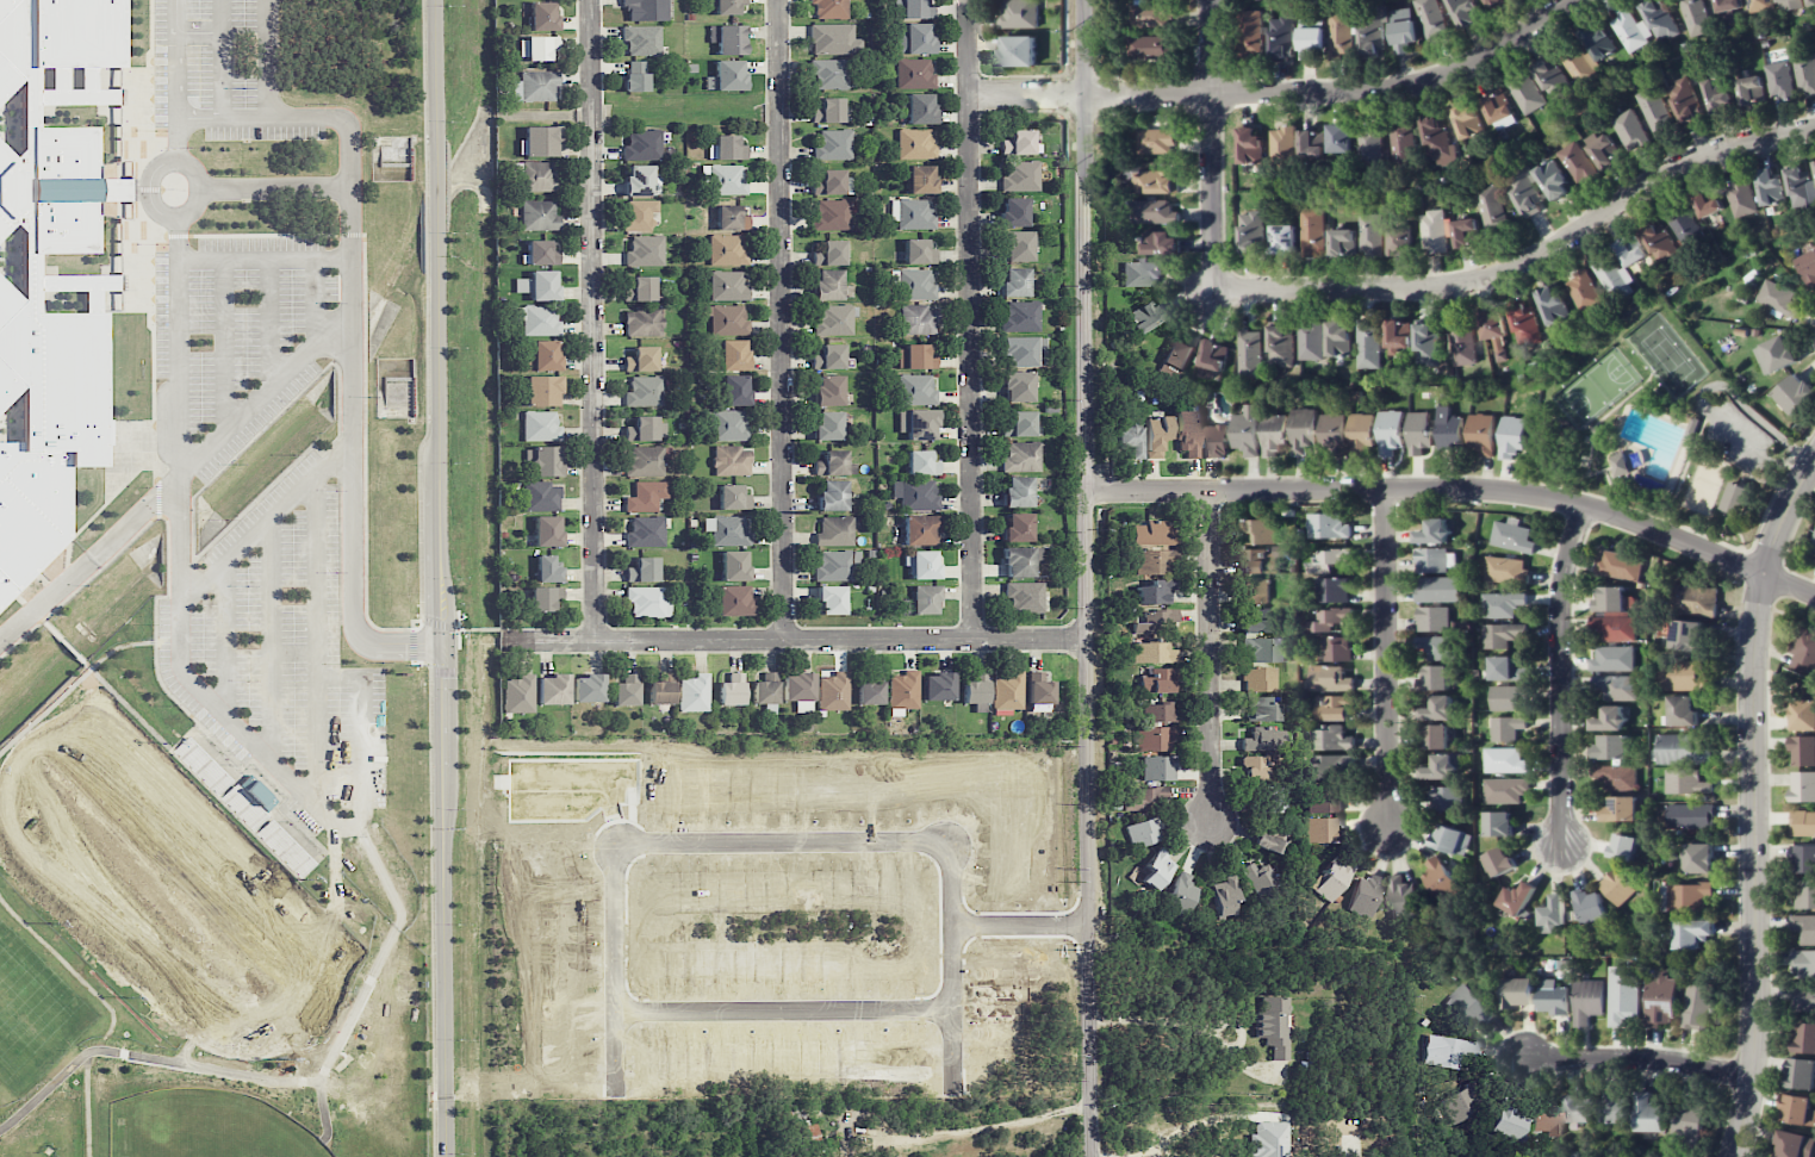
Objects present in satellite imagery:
building: (1492, 2)
building: (1810, 2)
building: (1728, 5)
building: (1758, 5)
building: (1788, 5)
building: (725, 6)
building: (828, 8)
building: (907, 8)
building: (646, 10)
building: (1462, 12)
building: (1019, 13)
building: (1151, 14)
building: (542, 15)
building: (1695, 17)
building: (1430, 18)
building: (1659, 19)
building: (1401, 29)
building: (1372, 30)
building: (1630, 30)
building: (1249, 32)
building: (1340, 33)
building: (1310, 37)
building: (727, 38)
building: (914, 38)
building: (1281, 38)
building: (641, 39)
building: (834, 39)
building: (1597, 42)
building: (536, 46)
building: (1150, 46)
building: (1018, 50)
road: (220, 58)
road: (266, 58)
building: (1578, 62)
parking lot: (220, 73)
building: (829, 73)
building: (914, 73)
building: (1804, 74)
building: (634, 75)
building: (726, 75)
road: (174, 79)
building: (1552, 79)
building: (1778, 80)
building: (534, 86)
building: (1751, 91)
building: (1525, 93)
road: (1283, 95)
building: (1717, 95)
building: (1684, 101)
building: (919, 108)
building: (1498, 110)
building: (1654, 110)
building: (828, 111)
building: (1465, 119)
building: (1629, 130)
building: (1341, 138)
building: (540, 141)
building: (1154, 141)
building: (1282, 141)
building: (1018, 142)
building: (1437, 142)
building: (914, 143)
building: (1401, 143)
building: (642, 144)
building: (832, 144)
building: (1312, 144)
building: (1370, 144)
building: (1249, 145)
road: (1210, 147)
building: (728, 148)
building: (1602, 149)
building: (1577, 162)
building: (1814, 164)
building: (537, 176)
building: (1021, 176)
building: (918, 179)
building: (641, 180)
building: (725, 180)
building: (1552, 180)
building: (1155, 181)
building: (832, 182)
building: (1770, 187)
building: (1801, 187)
road: (278, 188)
building: (1524, 191)
building: (1740, 197)
road: (147, 198)
building: (1707, 201)
building: (1492, 207)
building: (1013, 211)
building: (1154, 212)
building: (638, 213)
building: (914, 213)
building: (539, 214)
building: (832, 214)
building: (731, 218)
building: (1682, 223)
building: (1312, 230)
building: (1435, 230)
building: (1466, 231)
building: (1370, 232)
building: (1251, 234)
building: (1282, 238)
building: (1400, 241)
building: (1342, 242)
building: (1161, 243)
building: (1659, 243)
building: (1017, 245)
building: (726, 249)
building: (645, 250)
building: (1629, 250)
building: (918, 251)
building: (541, 253)
building: (829, 253)
road: (263, 257)
road: (1527, 263)
building: (1808, 267)
building: (1142, 273)
building: (1611, 278)
building: (1014, 281)
building: (827, 284)
building: (537, 285)
building: (915, 285)
building: (727, 286)
building: (642, 290)
building: (1581, 291)
road: (313, 299)
building: (1778, 299)
building: (1552, 306)
building: (14, 307)
building: (1020, 315)
building: (1145, 315)
building: (918, 318)
parking lot: (226, 319)
building: (536, 319)
building: (727, 319)
road: (782, 319)
building: (834, 319)
road: (971, 319)
road: (595, 321)
building: (642, 321)
road: (268, 322)
building: (1523, 324)
building: (1493, 331)
road: (354, 335)
building: (1398, 336)
building: (1338, 338)
building: (1310, 341)
building: (1462, 341)
road: (224, 343)
building: (1425, 343)
building: (1368, 344)
building: (1280, 346)
building: (1023, 352)
building: (733, 354)
building: (1250, 354)
building: (542, 355)
building: (1213, 355)
building: (1774, 355)
building: (914, 356)
park: (1668, 356)
building: (828, 357)
building: (1175, 357)
building: (641, 359)
building: (1017, 386)
building: (915, 388)
park: (1598, 388)
building: (542, 390)
building: (734, 390)
building: (828, 390)
building: (644, 391)
building: (1794, 393)
road: (1703, 394)
road: (1606, 416)
building: (918, 423)
building: (828, 424)
building: (1019, 424)
building: (731, 425)
building: (540, 427)
building: (1693, 428)
building: (646, 429)
building: (1449, 429)
building: (1245, 430)
building: (1303, 430)
road: (1590, 430)
park: (1659, 430)
building: (1391, 431)
building: (1419, 431)
parking lot: (1742, 433)
building: (1274, 434)
building: (1332, 434)
building: (1362, 434)
building: (1481, 434)
building: (1155, 435)
building: (1187, 435)
building: (1512, 436)
building: (1129, 437)
building: (1216, 441)
building: (1021, 455)
building: (644, 460)
building: (729, 460)
building: (545, 461)
building: (832, 462)
building: (921, 462)
building: (1623, 466)
road: (1742, 472)
road: (179, 474)
road: (1683, 474)
road: (1583, 478)
road: (1743, 480)
park: (1704, 487)
road: (1460, 489)
building: (1018, 491)
building: (915, 493)
road: (1612, 493)
building: (832, 494)
building: (540, 496)
building: (646, 496)
building: (732, 497)
building: (1738, 499)
road: (266, 520)
building: (1328, 525)
building: (1018, 527)
building: (728, 529)
building: (920, 529)
building: (547, 530)
building: (834, 530)
building: (646, 531)
building: (1258, 531)
building: (1432, 531)
building: (1152, 535)
building: (1512, 535)
road: (1741, 536)
building: (1811, 548)
road: (178, 554)
building: (1260, 559)
building: (1020, 560)
building: (1329, 560)
building: (1431, 560)
building: (1154, 561)
building: (837, 564)
building: (921, 564)
building: (734, 565)
building: (1618, 565)
building: (547, 568)
building: (642, 570)
building: (1505, 570)
road: (442, 578)
road: (1088, 578)
building: (1156, 591)
building: (1255, 591)
building: (1024, 596)
building: (541, 597)
building: (733, 599)
building: (831, 599)
building: (1610, 599)
building: (1699, 599)
building: (648, 602)
building: (1502, 604)
building: (1332, 616)
building: (1432, 618)
building: (1154, 620)
building: (1257, 621)
building: (1615, 628)
road: (460, 629)
road: (487, 629)
road: (508, 633)
building: (1502, 634)
building: (1686, 635)
road: (224, 636)
road: (268, 637)
road: (315, 640)
road: (796, 640)
building: (1438, 647)
building: (1263, 648)
building: (1337, 648)
building: (1803, 648)
road: (292, 651)
parking lot: (280, 652)
building: (1152, 652)
road: (1211, 658)
road: (1385, 659)
building: (1612, 659)
building: (1505, 668)
road: (1559, 674)
building: (1684, 674)
building: (1436, 677)
building: (1261, 678)
building: (1329, 678)
building: (1157, 680)
building: (937, 686)
building: (1614, 686)
building: (589, 688)
building: (553, 689)
building: (626, 689)
building: (732, 689)
building: (766, 689)
building: (798, 690)
building: (833, 691)
building: (975, 691)
building: (661, 692)
building: (694, 692)
building: (1039, 692)
building: (520, 693)
building: (1508, 697)
building: (1334, 708)
building: (1438, 708)
building: (1261, 709)
building: (1682, 710)
building: (1156, 714)
building: (1803, 715)
building: (1609, 719)
building: (1506, 728)
road: (362, 736)
building: (1436, 736)
building: (1154, 738)
building: (1264, 739)
building: (1330, 739)
building: (1610, 747)
building: (1679, 749)
building: (1803, 751)
building: (1504, 760)
building: (201, 765)
building: (1330, 766)
building: (1441, 766)
building: (1158, 767)
building: (1255, 767)
building: (1617, 777)
building: (1685, 782)
building: (1803, 786)
building: (1505, 790)
building: (1144, 798)
building: (1446, 798)
building: (1278, 800)
building: (1323, 800)
road: (1753, 802)
building: (1623, 809)
building: (1690, 816)
building: (1802, 822)
building: (1498, 823)
building: (1322, 829)
building: (1143, 832)
building: (1452, 839)
building: (1270, 844)
building: (1623, 846)
building: (1699, 858)
building: (1803, 858)
road: (621, 859)
building: (1498, 861)
building: (1157, 869)
building: (1260, 878)
building: (1332, 878)
building: (1440, 879)
park: (162, 882)
building: (1617, 887)
track: (55, 891)
building: (1805, 894)
building: (1179, 895)
building: (1225, 895)
building: (1365, 895)
building: (1401, 896)
building: (1690, 896)
building: (1516, 898)
building: (1591, 906)
building: (1552, 914)
building: (1804, 927)
building: (1692, 933)
building: (1804, 964)
building: (1517, 993)
building: (1622, 996)
building: (1553, 997)
building: (1660, 999)
building: (1805, 999)
building: (1587, 1000)
building: (1697, 1004)
building: (1468, 1007)
park: (31, 1009)
building: (1274, 1025)
building: (1805, 1038)
building: (1447, 1051)
road: (1636, 1059)
building: (1801, 1074)
building: (1460, 1103)
building: (1580, 1108)
building: (1615, 1108)
building: (1798, 1109)
building: (1648, 1114)
building: (1689, 1120)
building: (1505, 1121)
building: (1547, 1121)
park: (209, 1126)
road: (928, 1134)
building: (1269, 1139)
building: (1795, 1145)
park: (1, 1156)

